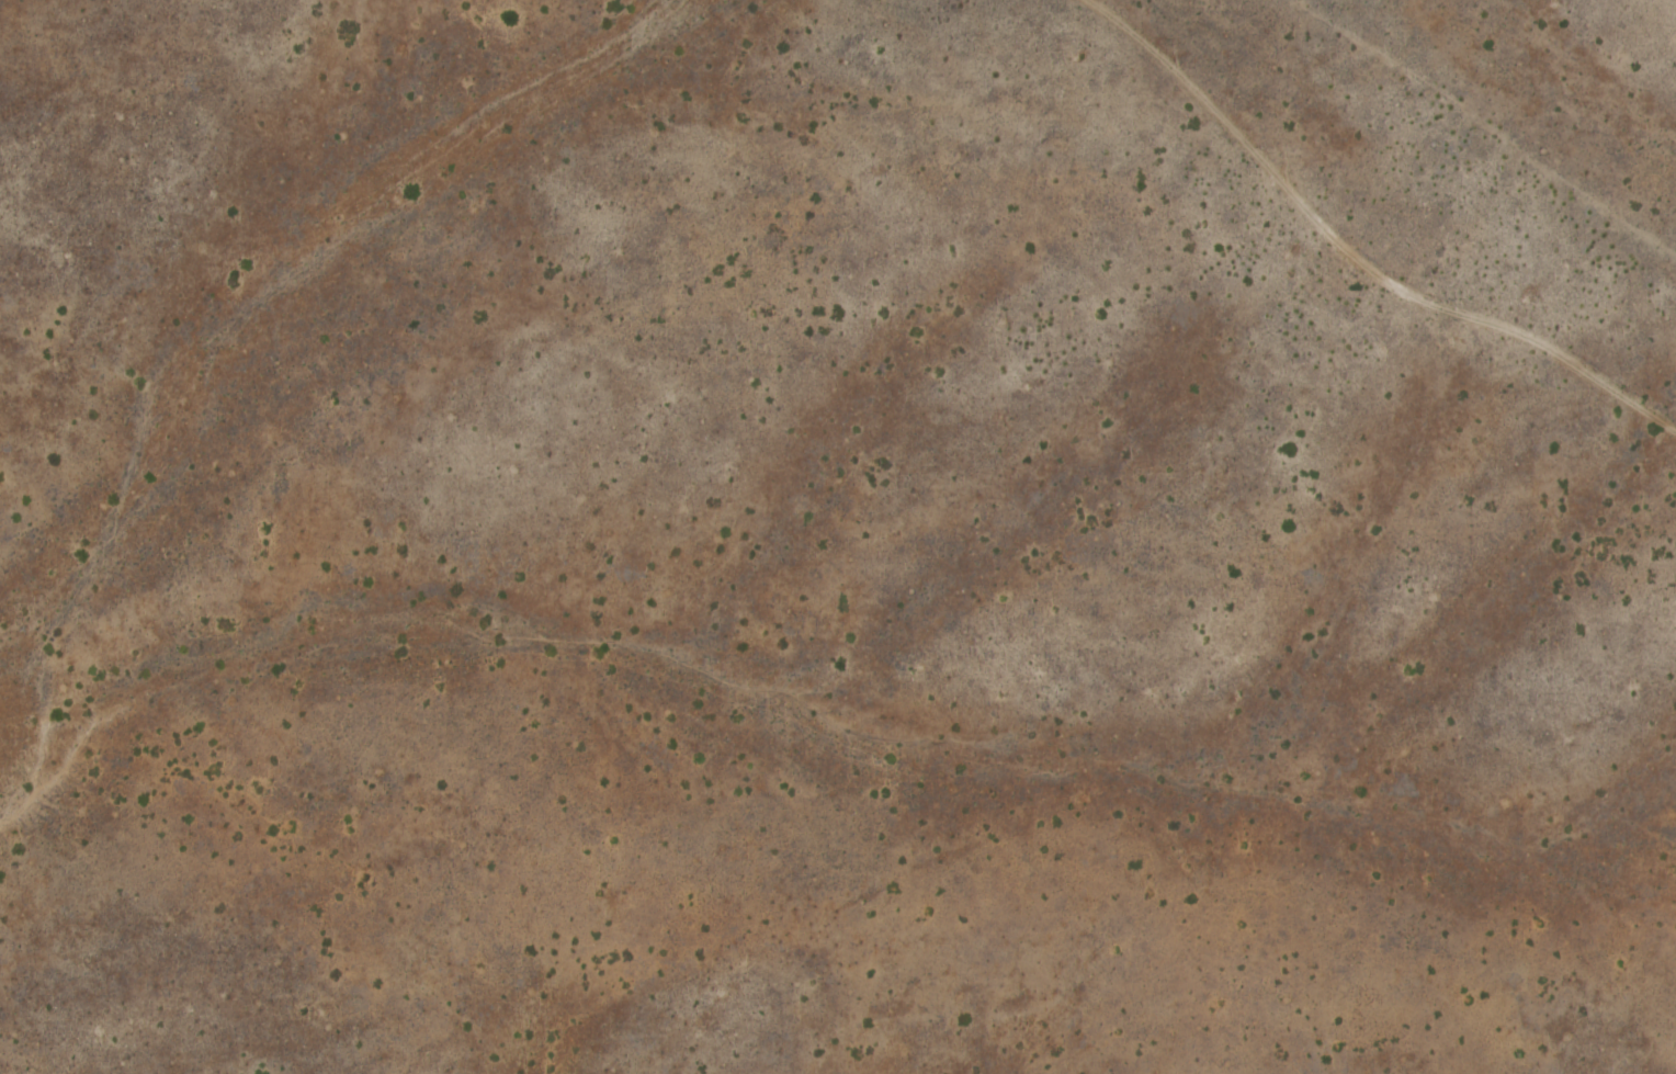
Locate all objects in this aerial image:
road: (1504, 105)

